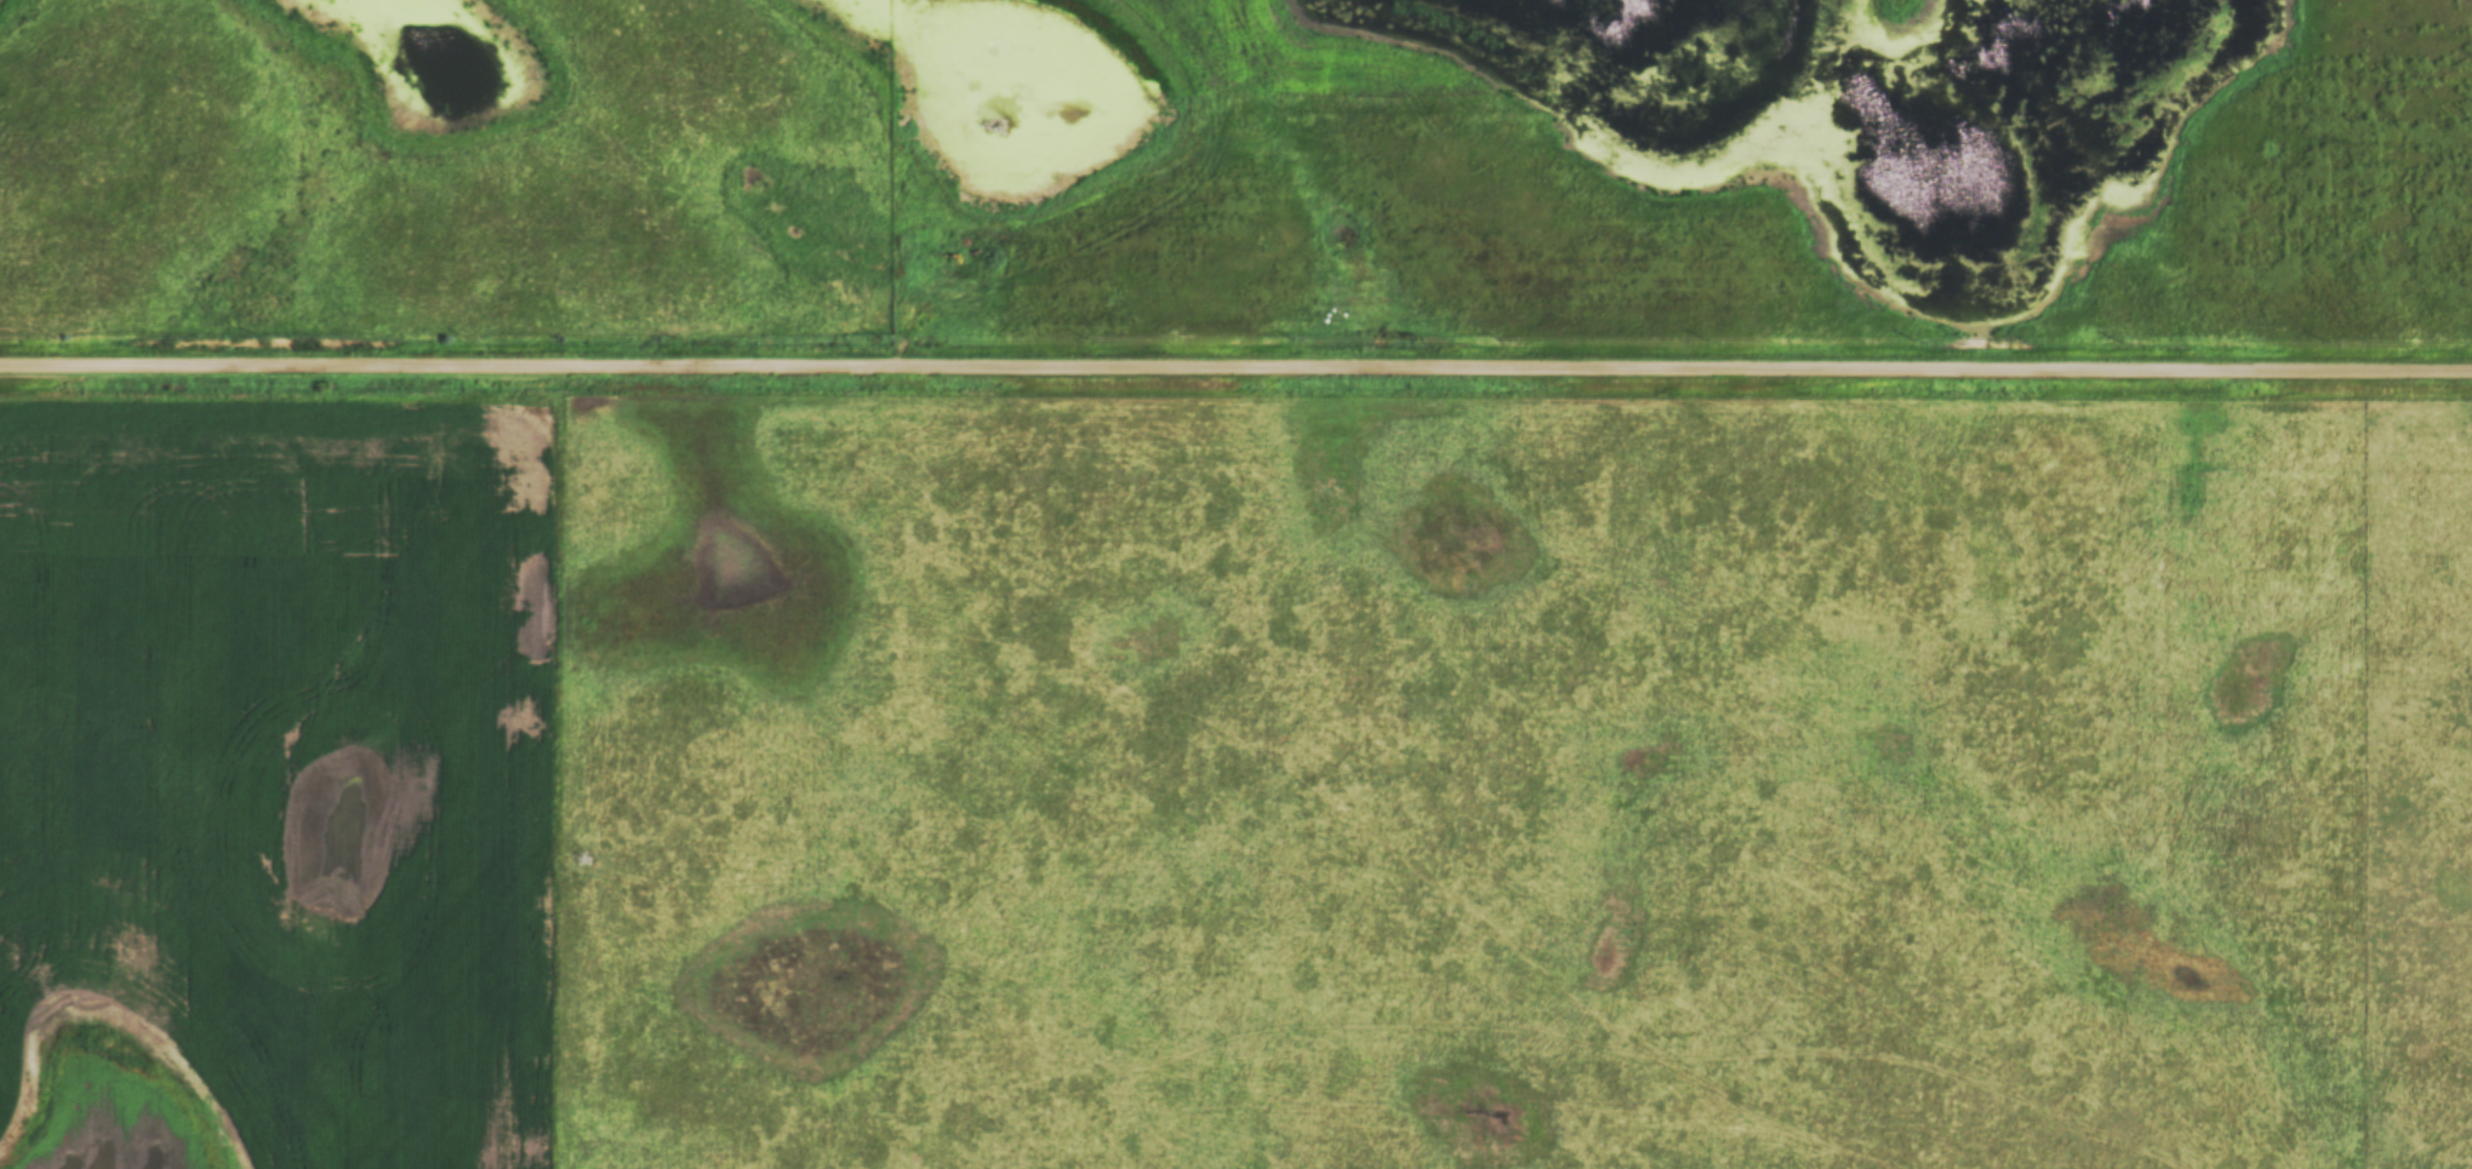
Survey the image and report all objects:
road: (1235, 369)

